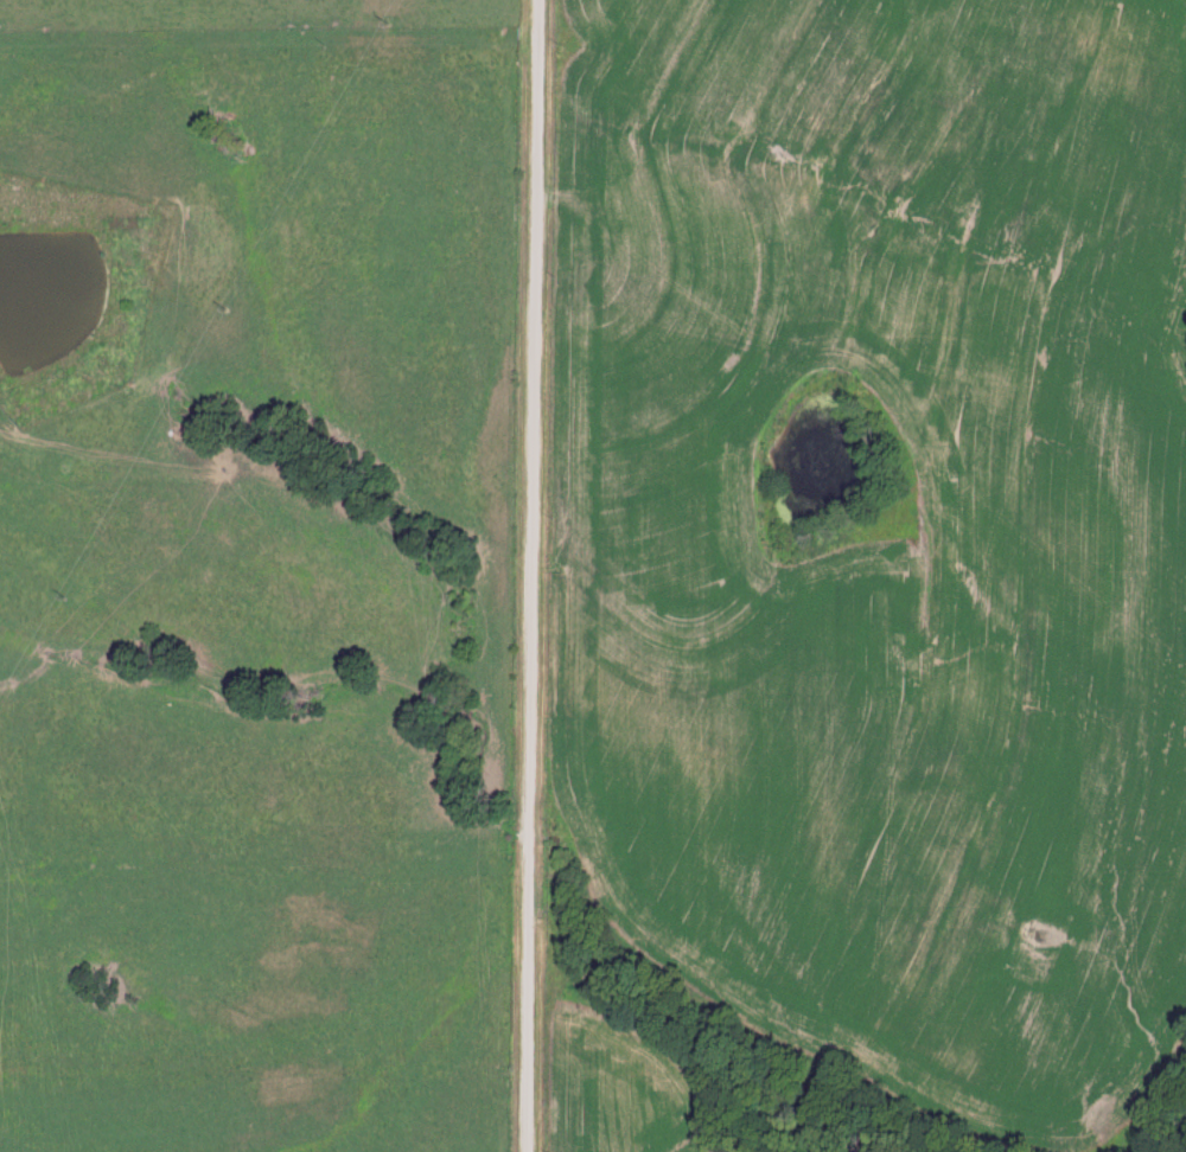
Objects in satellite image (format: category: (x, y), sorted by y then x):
road: (540, 576)

